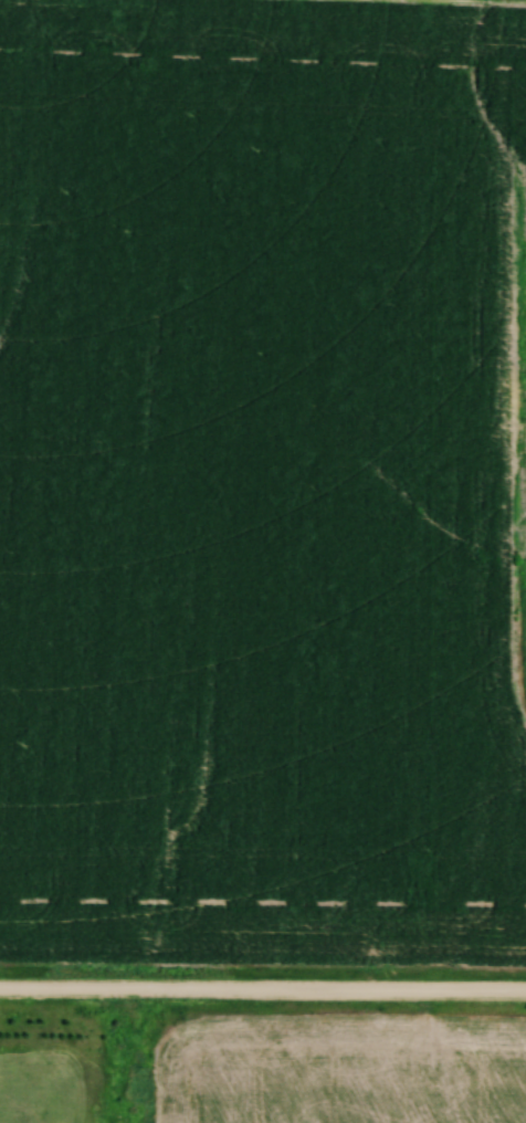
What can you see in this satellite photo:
road: (262, 993)

